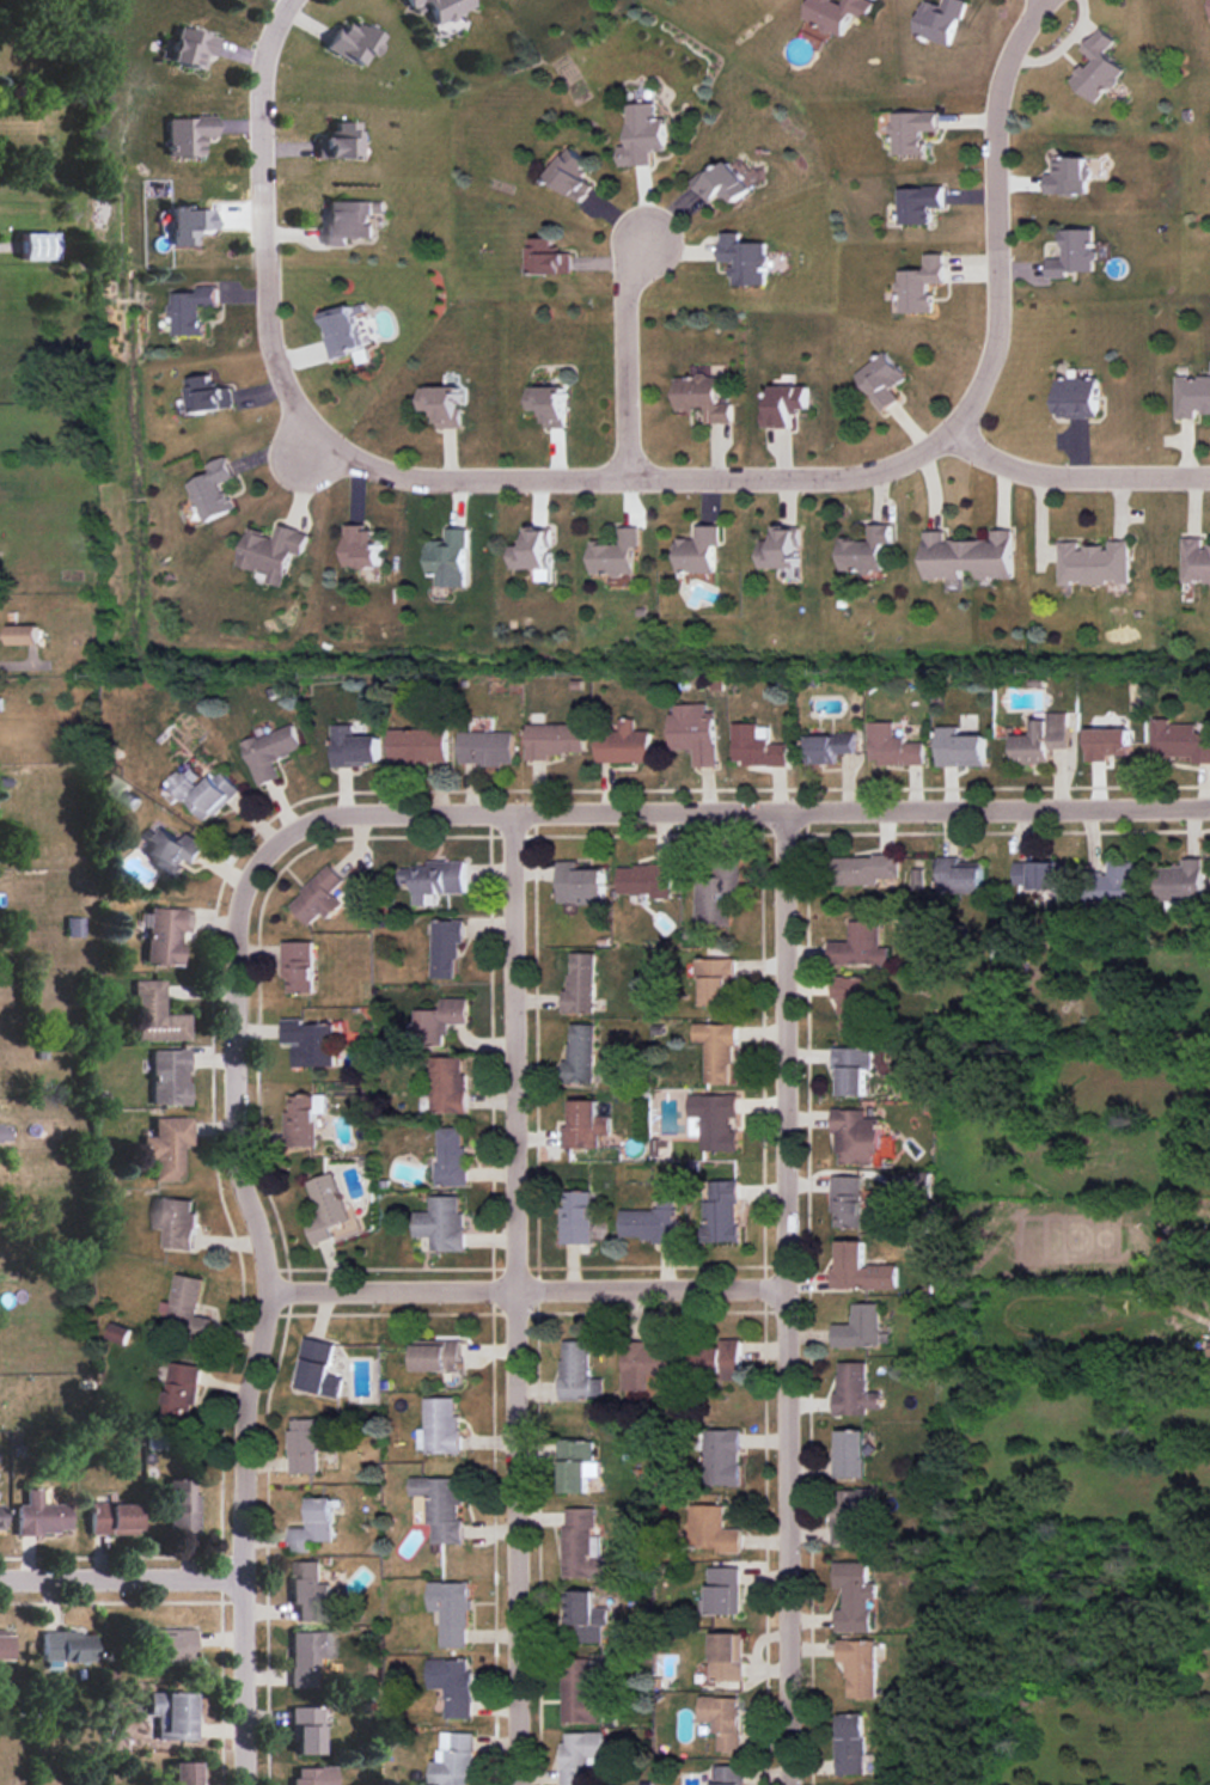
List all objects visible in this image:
building: (836, 13)
building: (939, 19)
building: (354, 42)
building: (192, 47)
building: (1098, 67)
building: (911, 130)
building: (189, 134)
building: (642, 135)
building: (340, 141)
building: (572, 175)
building: (1068, 176)
building: (723, 184)
building: (918, 203)
road: (996, 214)
building: (348, 220)
building: (189, 224)
building: (39, 245)
building: (1074, 253)
building: (548, 257)
building: (742, 258)
building: (918, 285)
building: (190, 310)
road: (623, 353)
building: (880, 380)
building: (207, 395)
building: (1192, 396)
building: (702, 397)
building: (1077, 397)
building: (549, 404)
building: (441, 405)
building: (784, 405)
road: (1075, 472)
road: (410, 475)
building: (212, 490)
building: (360, 548)
building: (781, 549)
building: (533, 550)
building: (697, 550)
building: (866, 550)
building: (271, 551)
building: (967, 557)
building: (448, 558)
building: (1196, 561)
building: (1094, 562)
building: (22, 634)
road: (14, 665)
building: (693, 732)
building: (552, 739)
building: (1041, 739)
building: (1180, 740)
building: (1107, 742)
building: (417, 744)
building: (623, 744)
building: (756, 746)
building: (892, 746)
building: (353, 747)
building: (485, 747)
building: (829, 747)
building: (959, 747)
building: (270, 751)
building: (202, 791)
road: (741, 814)
building: (172, 849)
building: (866, 870)
building: (919, 873)
building: (1035, 874)
building: (959, 875)
building: (436, 879)
building: (646, 880)
building: (1182, 880)
building: (579, 884)
building: (717, 893)
building: (318, 897)
building: (74, 925)
building: (165, 934)
building: (860, 946)
building: (445, 947)
building: (298, 966)
building: (715, 979)
building: (580, 984)
building: (849, 1002)
building: (157, 1014)
building: (441, 1016)
building: (310, 1043)
building: (716, 1051)
building: (579, 1052)
building: (851, 1068)
building: (170, 1076)
building: (447, 1084)
building: (302, 1119)
building: (714, 1120)
building: (583, 1125)
building: (4, 1132)
building: (856, 1137)
building: (167, 1145)
building: (450, 1156)
building: (919, 1181)
building: (849, 1200)
building: (326, 1209)
building: (721, 1210)
building: (575, 1217)
building: (176, 1221)
building: (650, 1222)
building: (441, 1223)
building: (861, 1269)
road: (524, 1289)
road: (780, 1300)
building: (182, 1301)
road: (513, 1301)
road: (264, 1304)
building: (858, 1327)
building: (116, 1333)
building: (1209, 1347)
building: (436, 1355)
building: (716, 1358)
building: (646, 1363)
building: (317, 1368)
building: (577, 1371)
building: (854, 1389)
building: (181, 1390)
building: (439, 1426)
building: (308, 1441)
building: (850, 1454)
building: (720, 1456)
building: (575, 1465)
building: (182, 1505)
building: (441, 1506)
building: (849, 1512)
building: (41, 1515)
building: (0, 1517)
building: (112, 1518)
building: (313, 1526)
building: (713, 1529)
building: (581, 1545)
road: (118, 1577)
building: (723, 1590)
building: (310, 1591)
building: (854, 1596)
building: (451, 1612)
building: (585, 1615)
building: (4, 1645)
building: (170, 1645)
building: (66, 1646)
building: (307, 1655)
building: (727, 1656)
building: (858, 1667)
building: (452, 1685)
building: (579, 1693)
building: (173, 1714)
building: (722, 1719)
building: (306, 1730)
building: (850, 1743)
building: (581, 1755)
building: (453, 1760)
building: (185, 1773)
building: (727, 1774)
building: (312, 1775)

